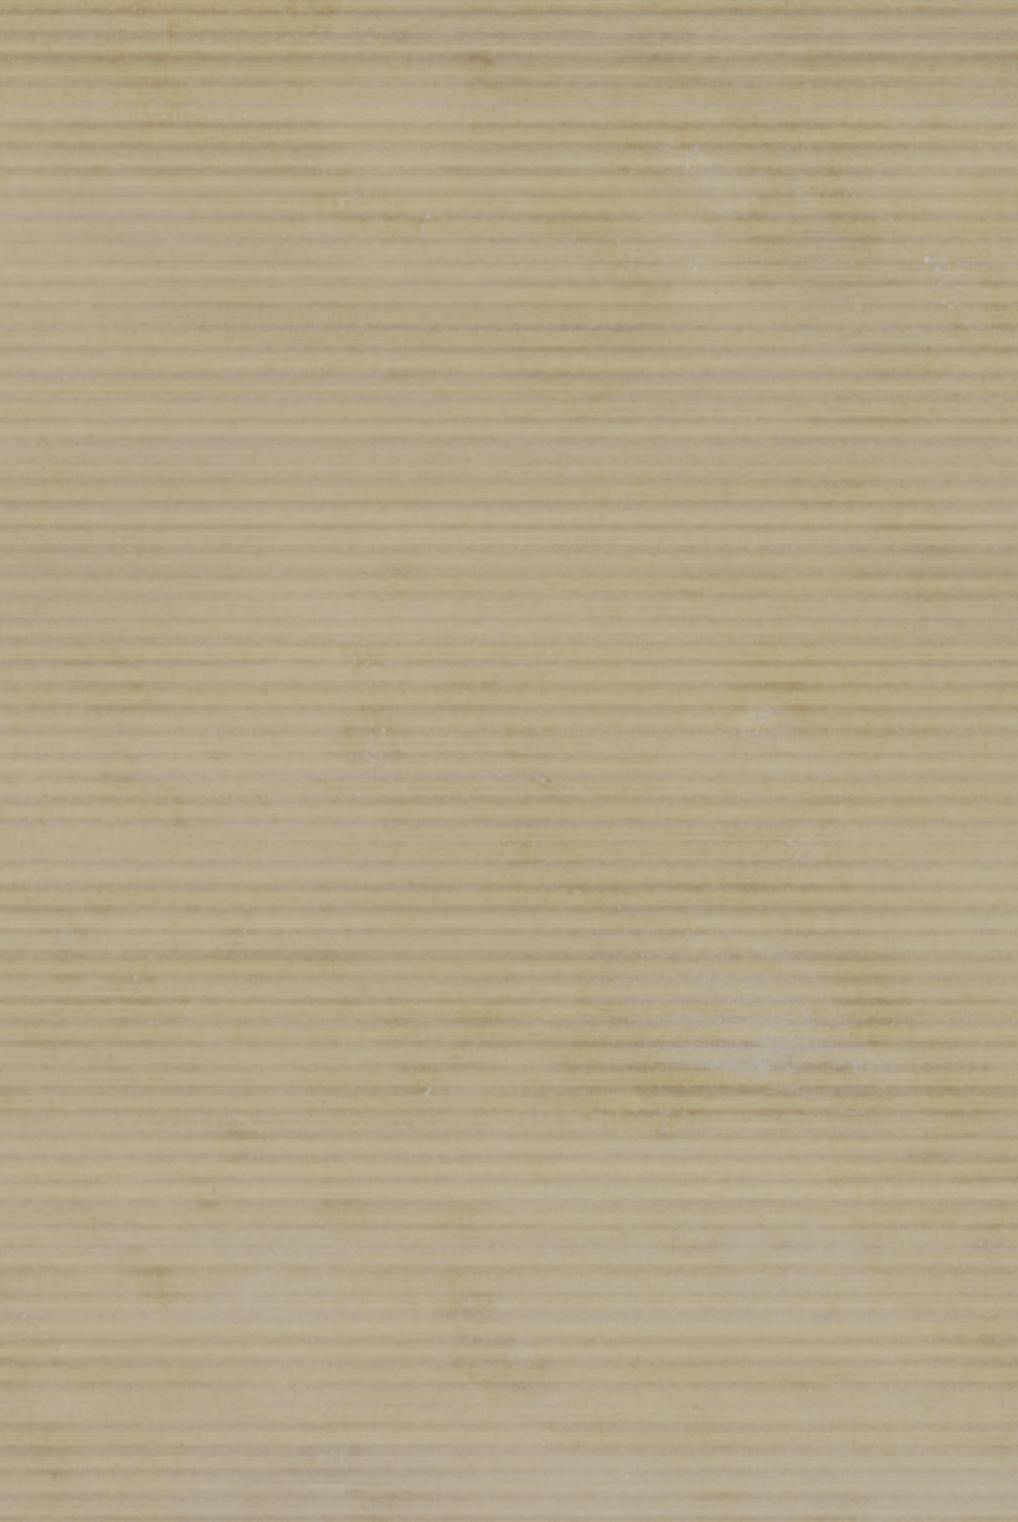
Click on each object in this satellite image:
crop: (509, 761)

